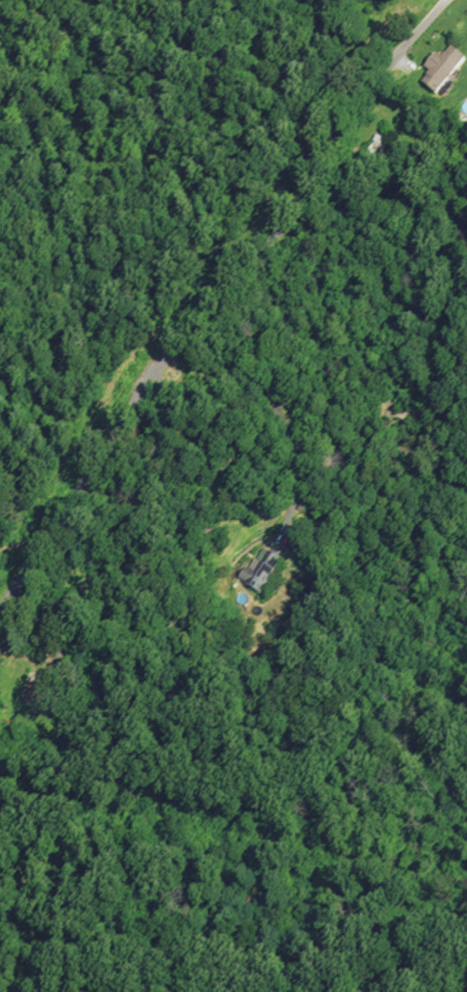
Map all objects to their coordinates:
building: (444, 72)
road: (216, 299)
road: (277, 410)
building: (303, 543)
building: (263, 575)
building: (39, 695)
building: (252, 899)

